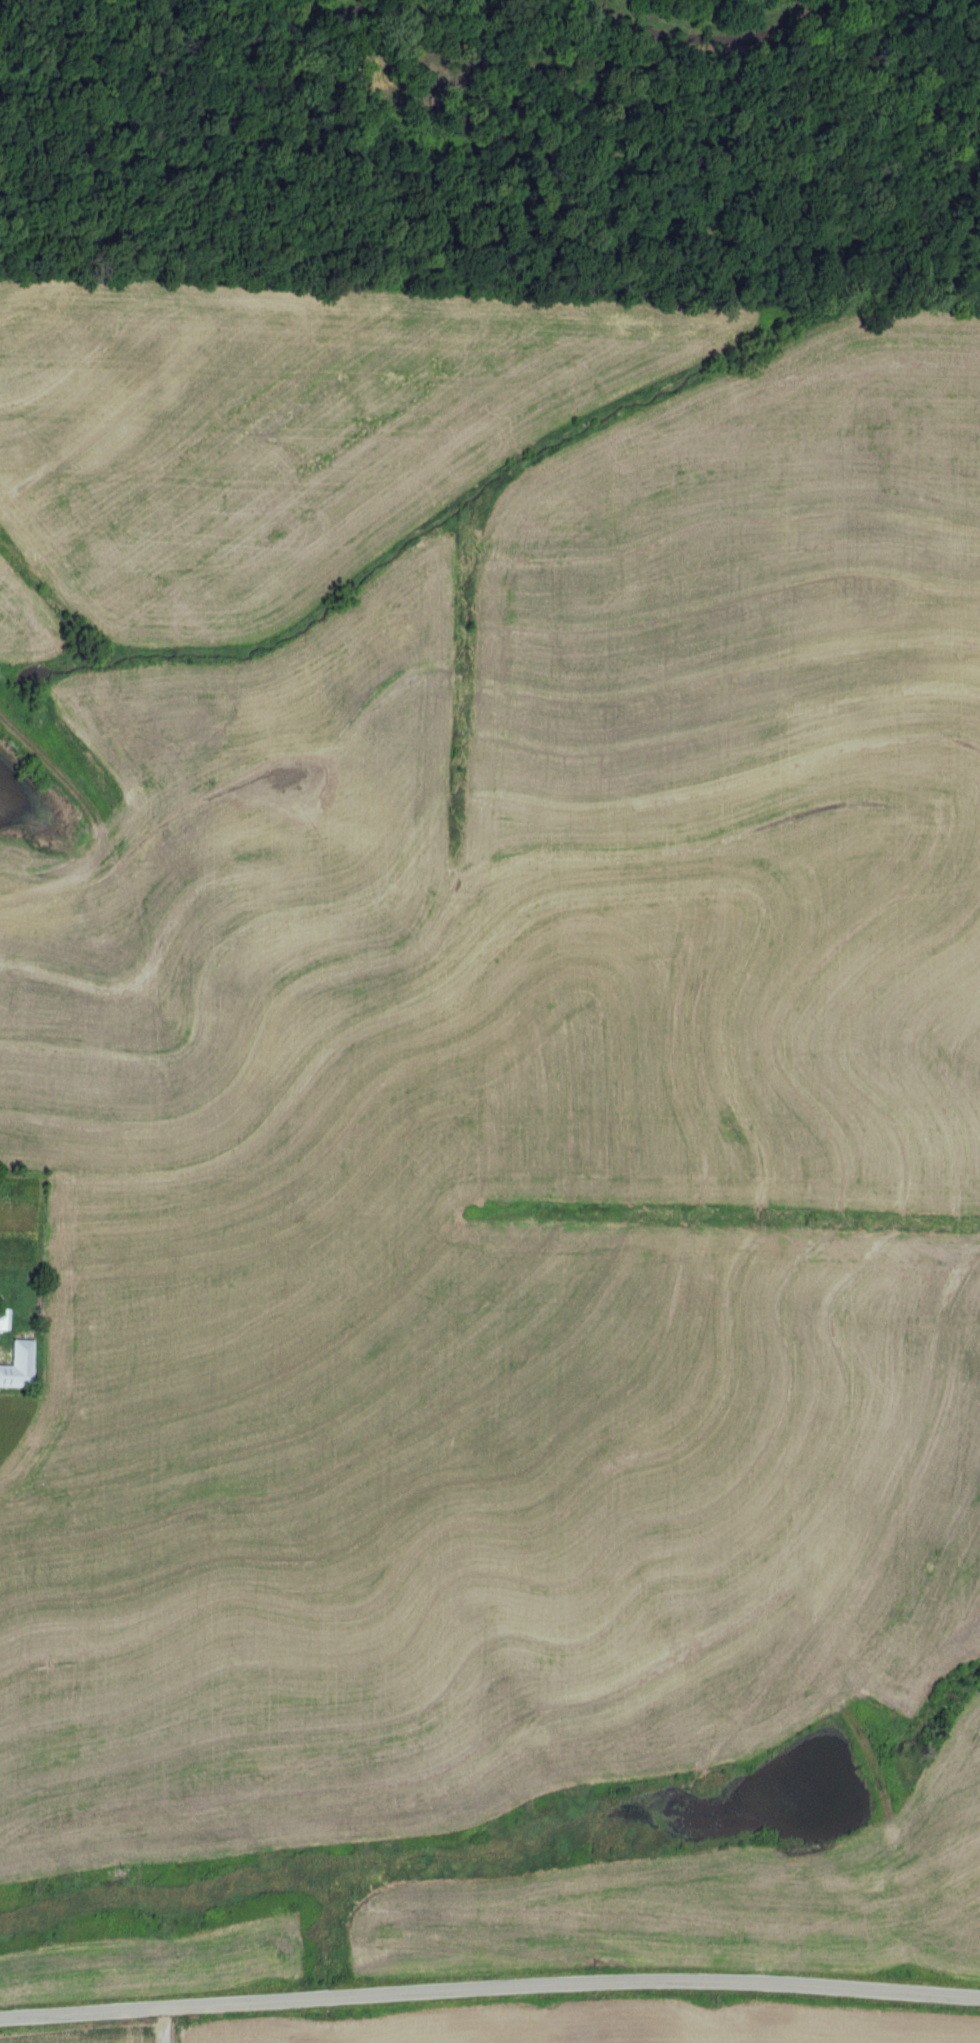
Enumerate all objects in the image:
river: (708, 32)
building: (2, 1320)
building: (16, 1365)
building: (870, 1881)
road: (489, 1988)

